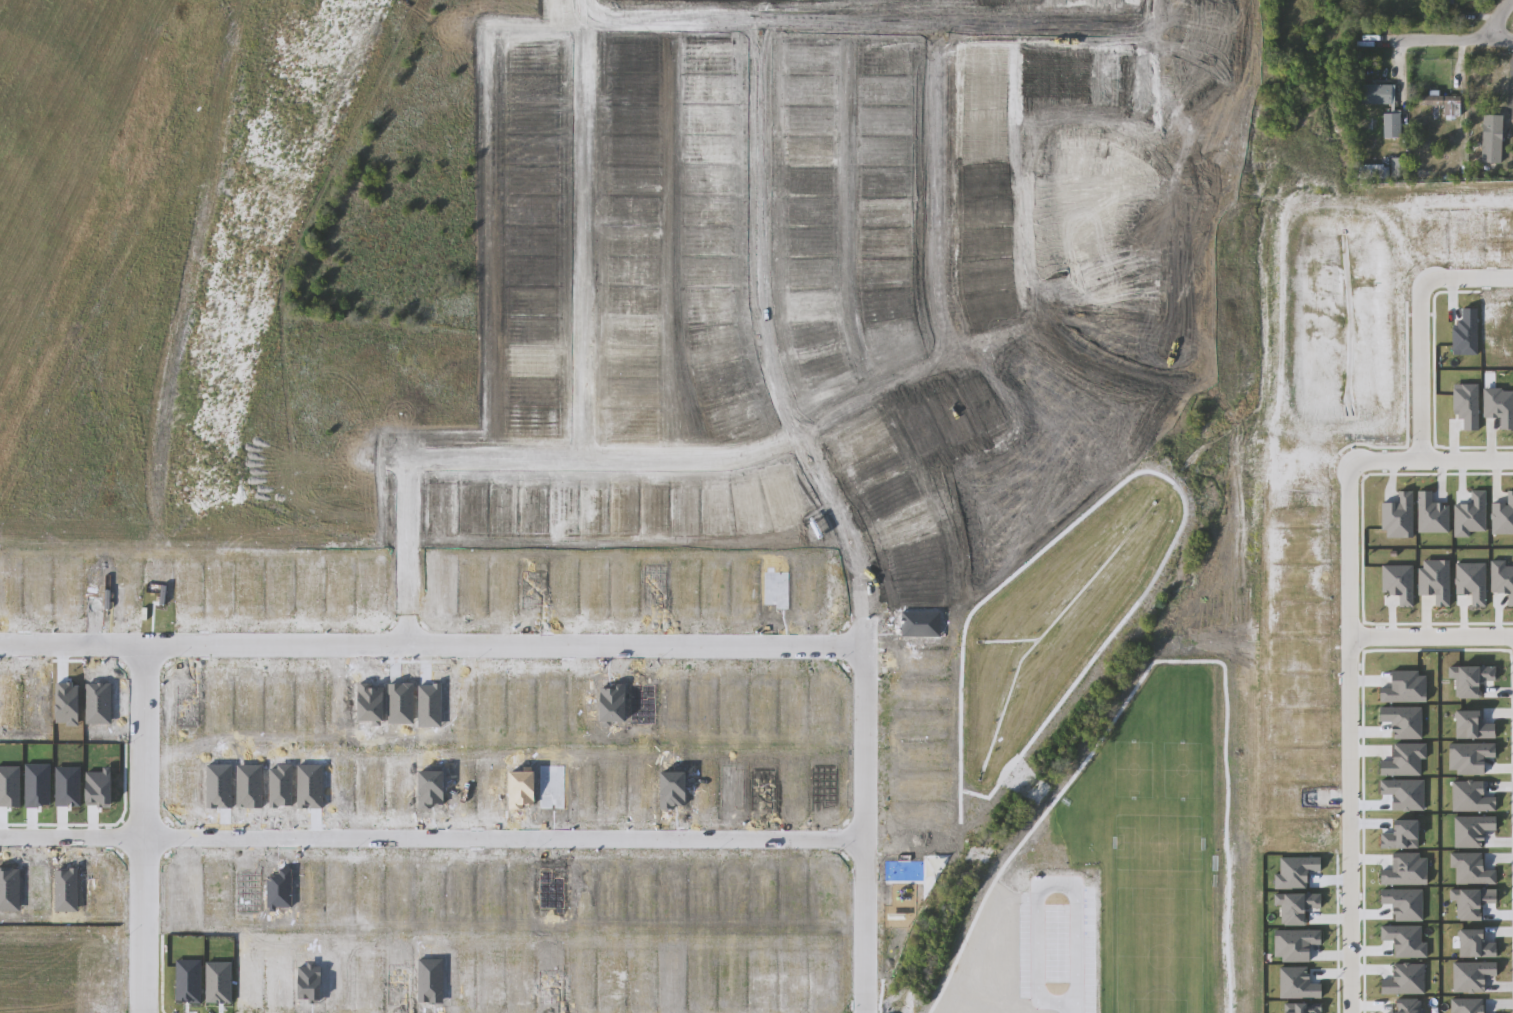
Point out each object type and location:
road: (1151, 15)
road: (1495, 20)
road: (567, 25)
road: (1455, 39)
road: (1457, 68)
road: (1397, 74)
building: (1376, 94)
building: (1443, 105)
building: (1492, 111)
building: (1393, 126)
building: (1400, 167)
building: (1371, 172)
road: (932, 187)
road: (571, 229)
road: (215, 250)
road: (106, 305)
road: (1418, 321)
road: (407, 338)
road: (487, 459)
road: (1427, 459)
road: (836, 513)
road: (1428, 635)
road: (430, 646)
road: (1344, 737)
park: (1111, 826)
road: (143, 828)
road: (430, 833)
road: (1041, 892)
parking lot: (1056, 943)
road: (1072, 1008)

